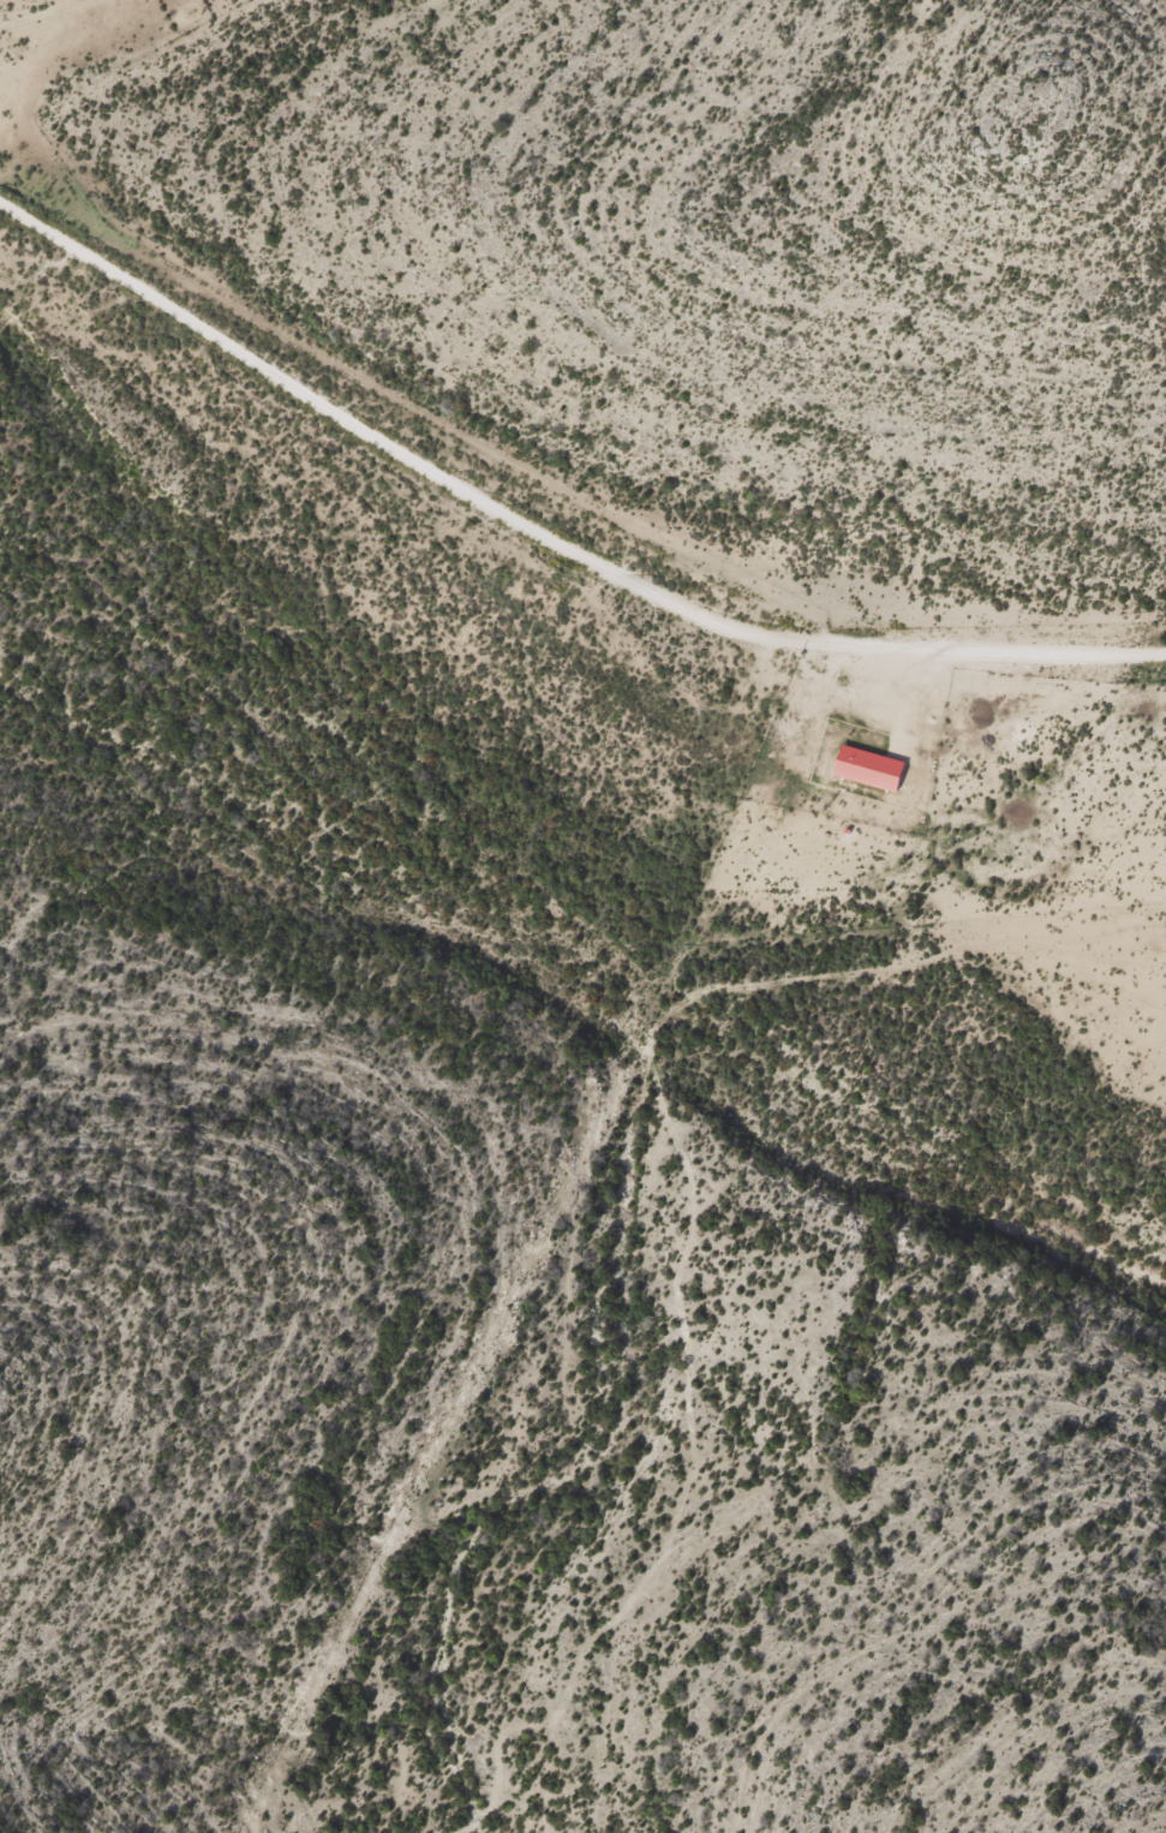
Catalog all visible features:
road: (47, 16)
road: (549, 531)

